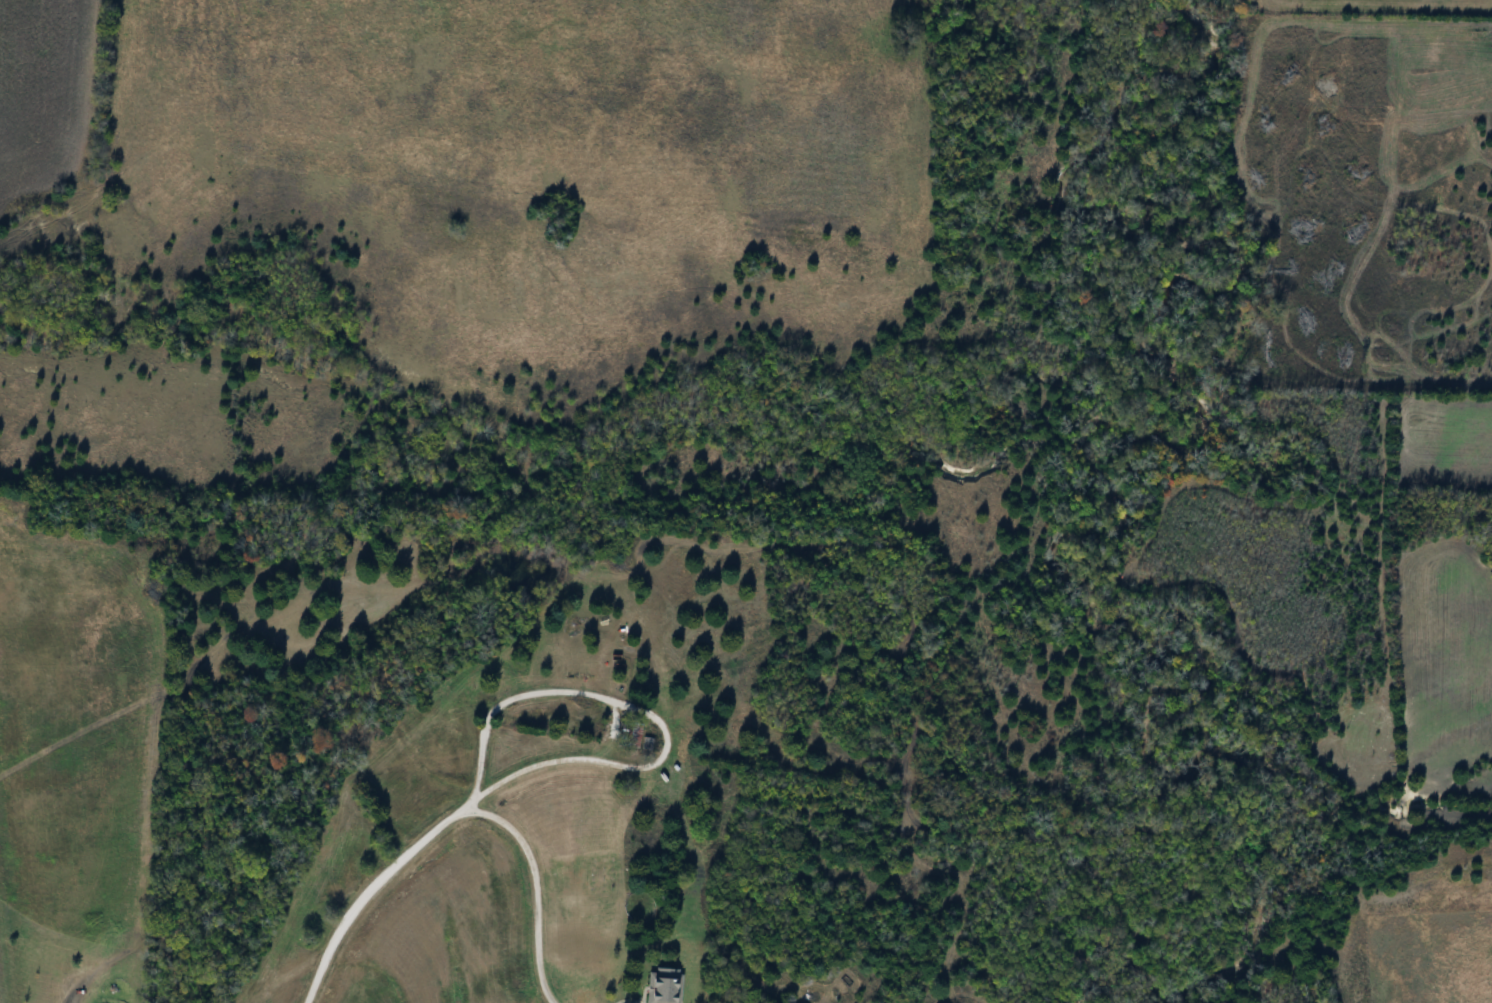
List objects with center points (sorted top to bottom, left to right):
road: (655, 714)
building: (635, 737)
road: (538, 886)
road: (366, 887)
building: (95, 920)
building: (666, 986)

